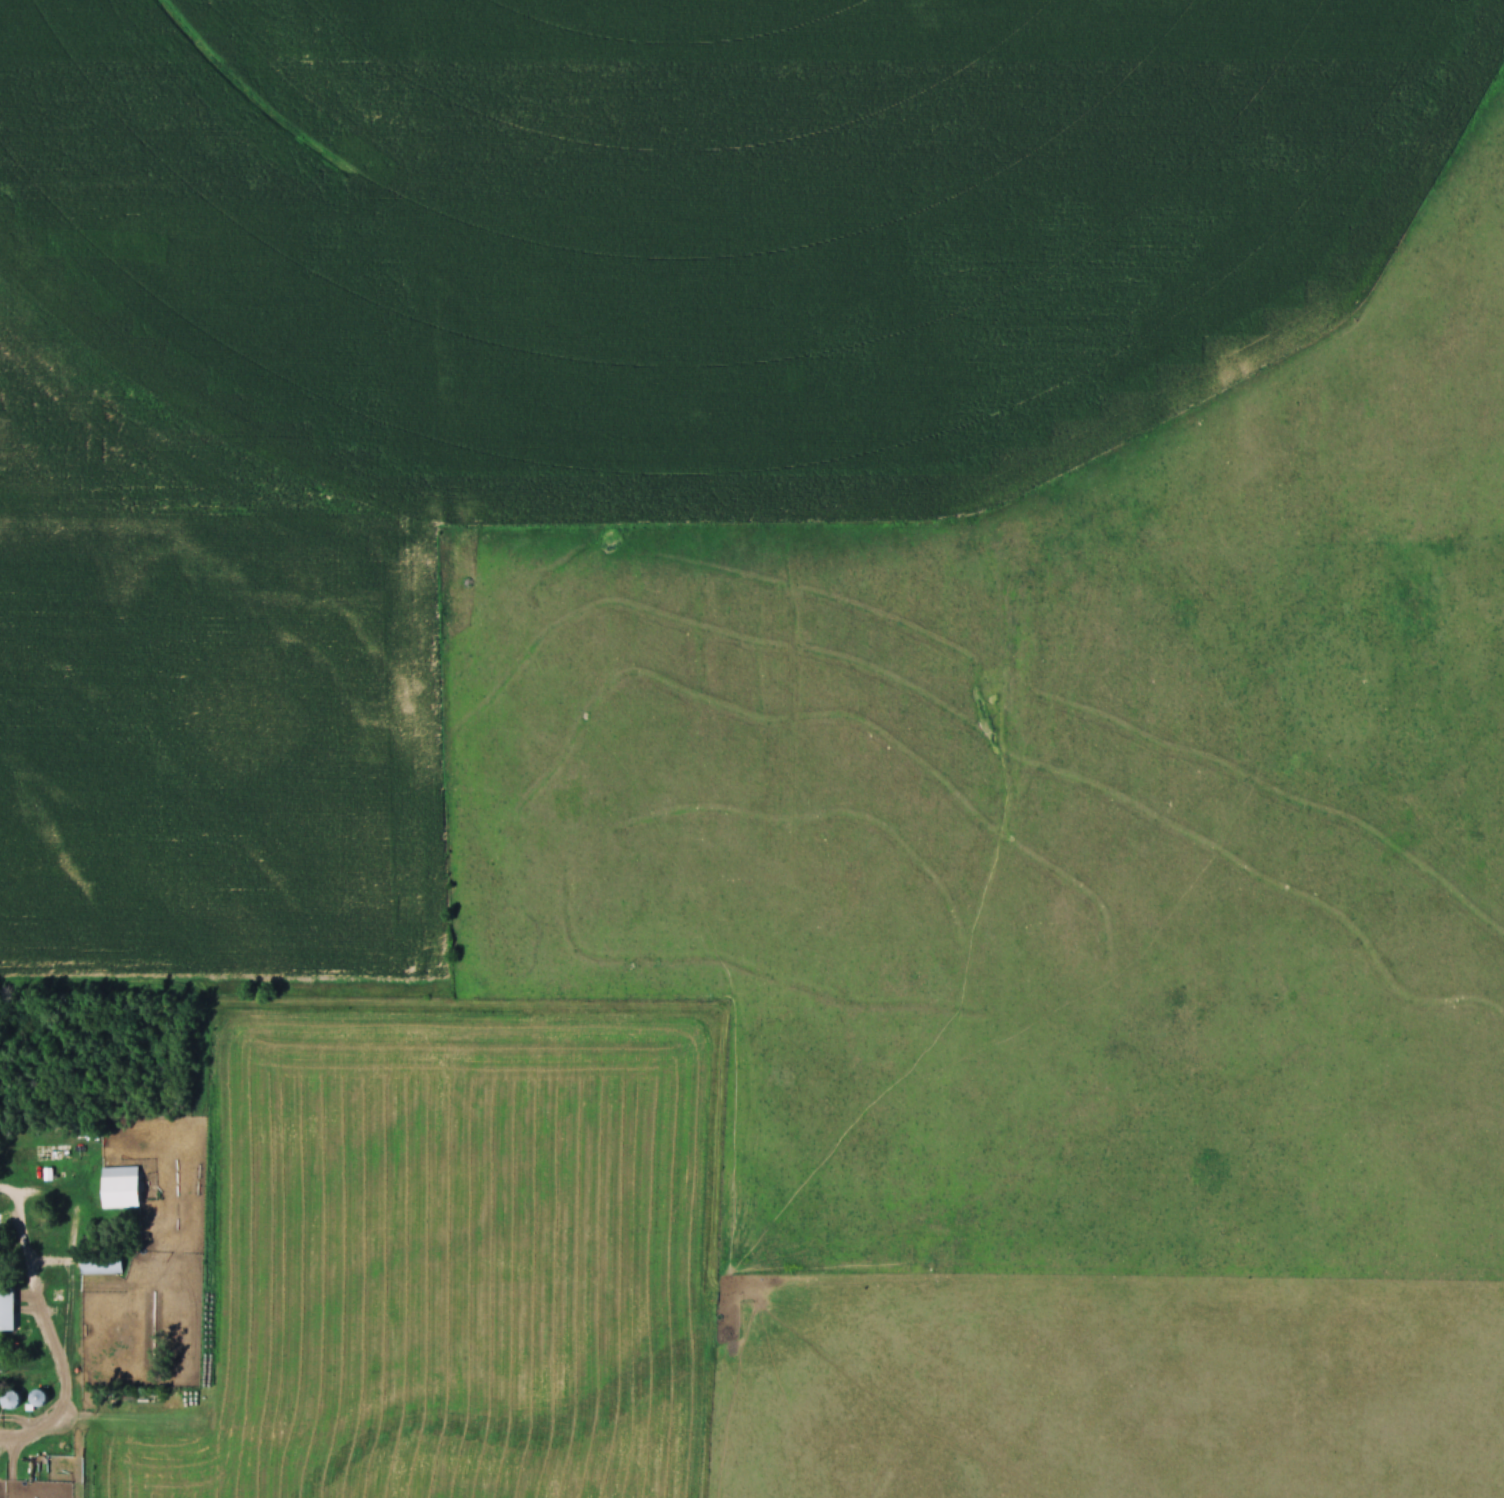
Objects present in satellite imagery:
building: (53, 1153)
building: (122, 1187)
building: (102, 1262)
building: (7, 1311)
road: (64, 1315)
building: (37, 1399)
building: (11, 1401)

